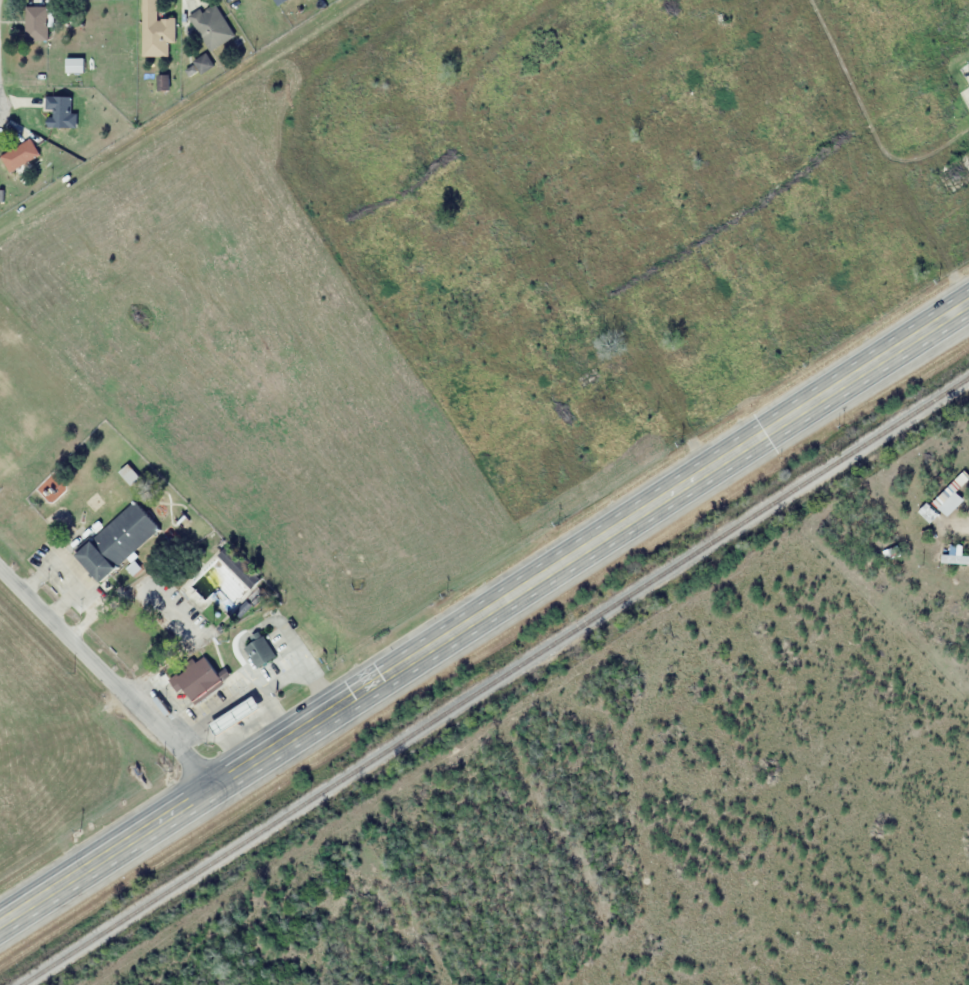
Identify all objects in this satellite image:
building: (36, 23)
building: (211, 26)
building: (155, 31)
building: (74, 65)
building: (60, 111)
building: (19, 154)
building: (941, 505)
building: (116, 542)
building: (954, 557)
road: (485, 616)
building: (258, 651)
road: (108, 678)
building: (199, 679)
railway: (497, 682)
building: (234, 716)

